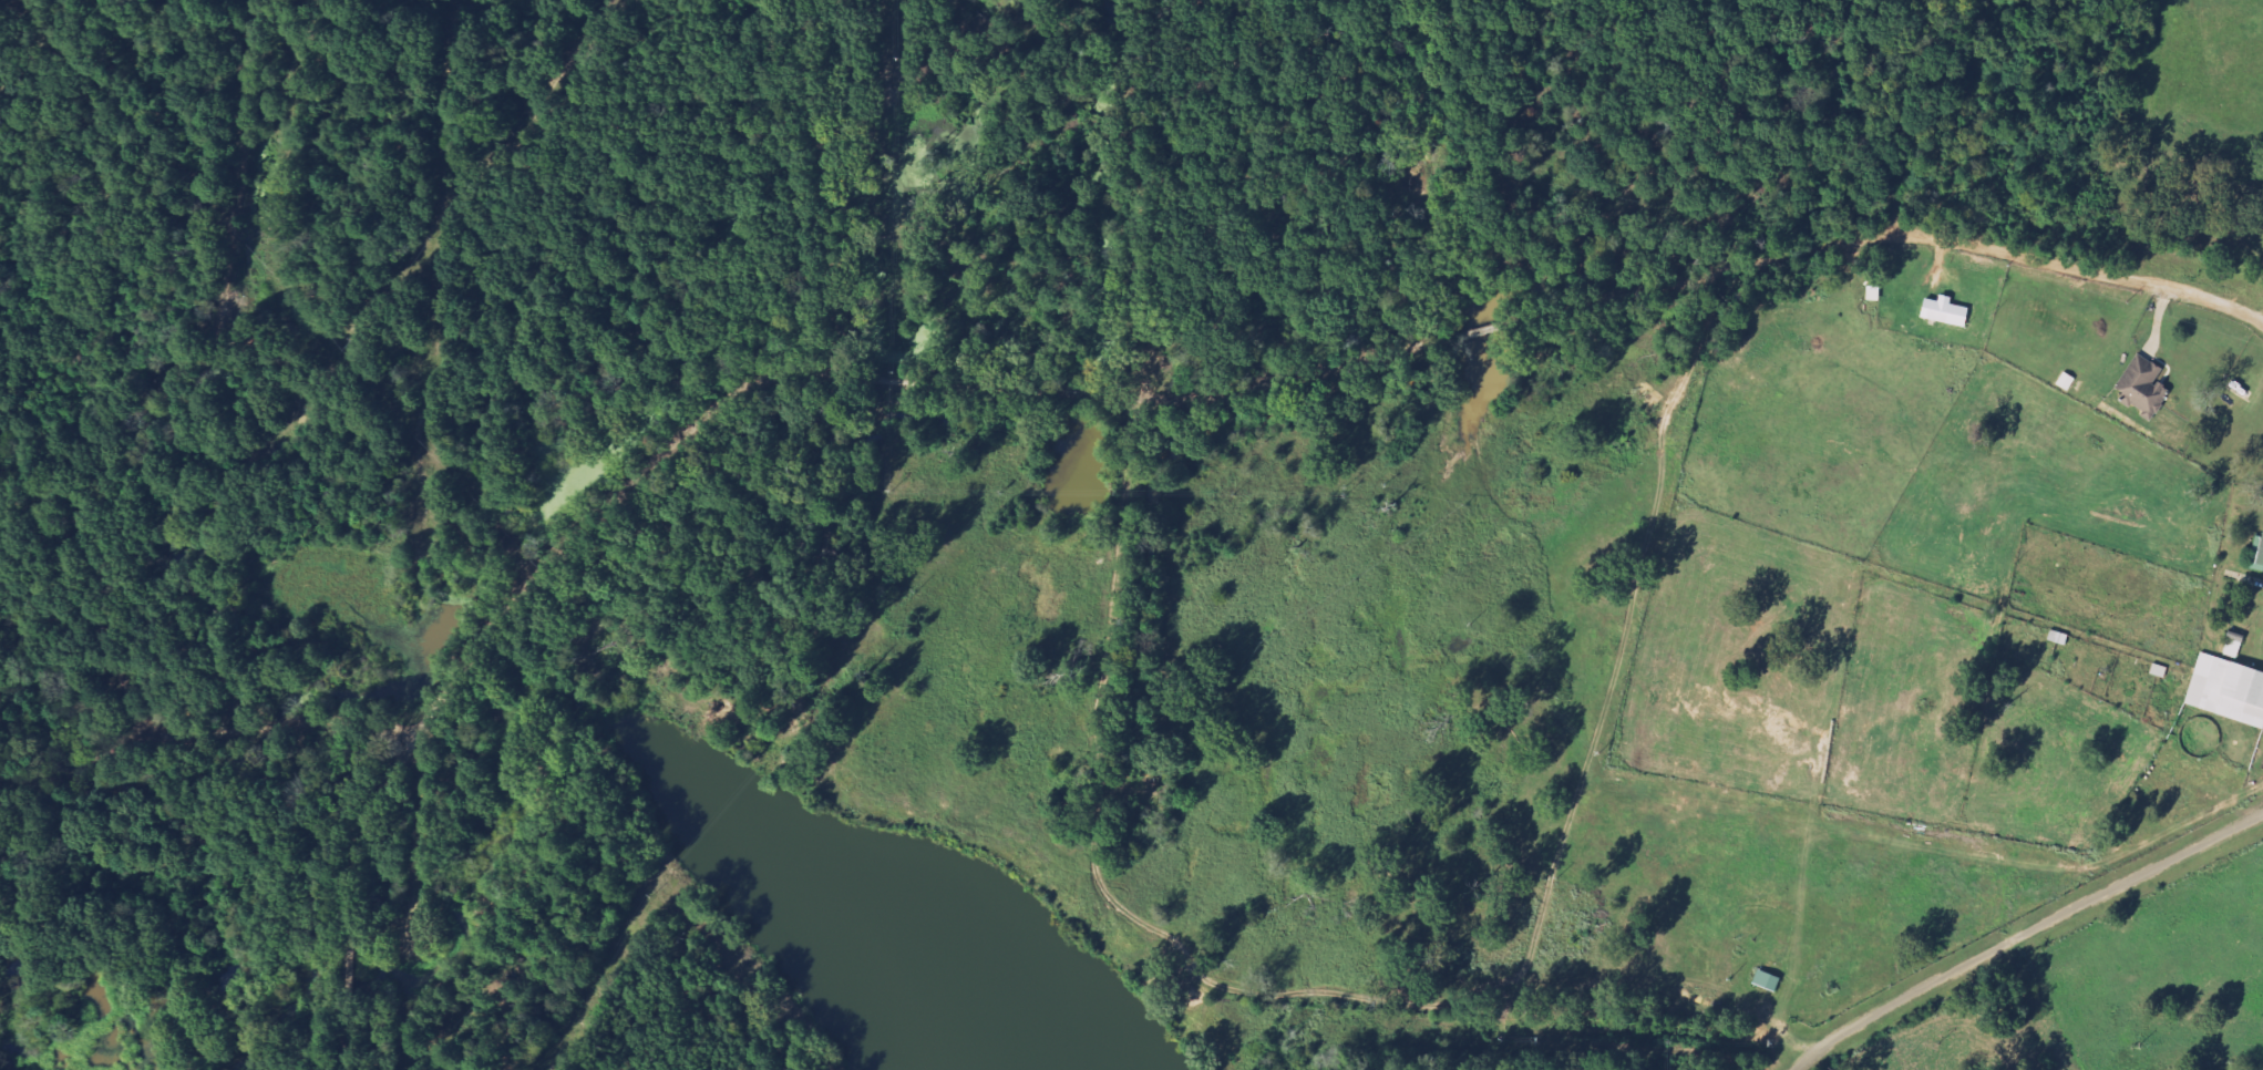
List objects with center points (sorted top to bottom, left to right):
road: (822, 187)
building: (1948, 312)
road: (1272, 384)
building: (2144, 388)
road: (1618, 490)
building: (2259, 555)
road: (821, 585)
building: (2229, 690)
road: (206, 739)
road: (351, 897)
road: (2026, 934)
road: (1478, 1022)

